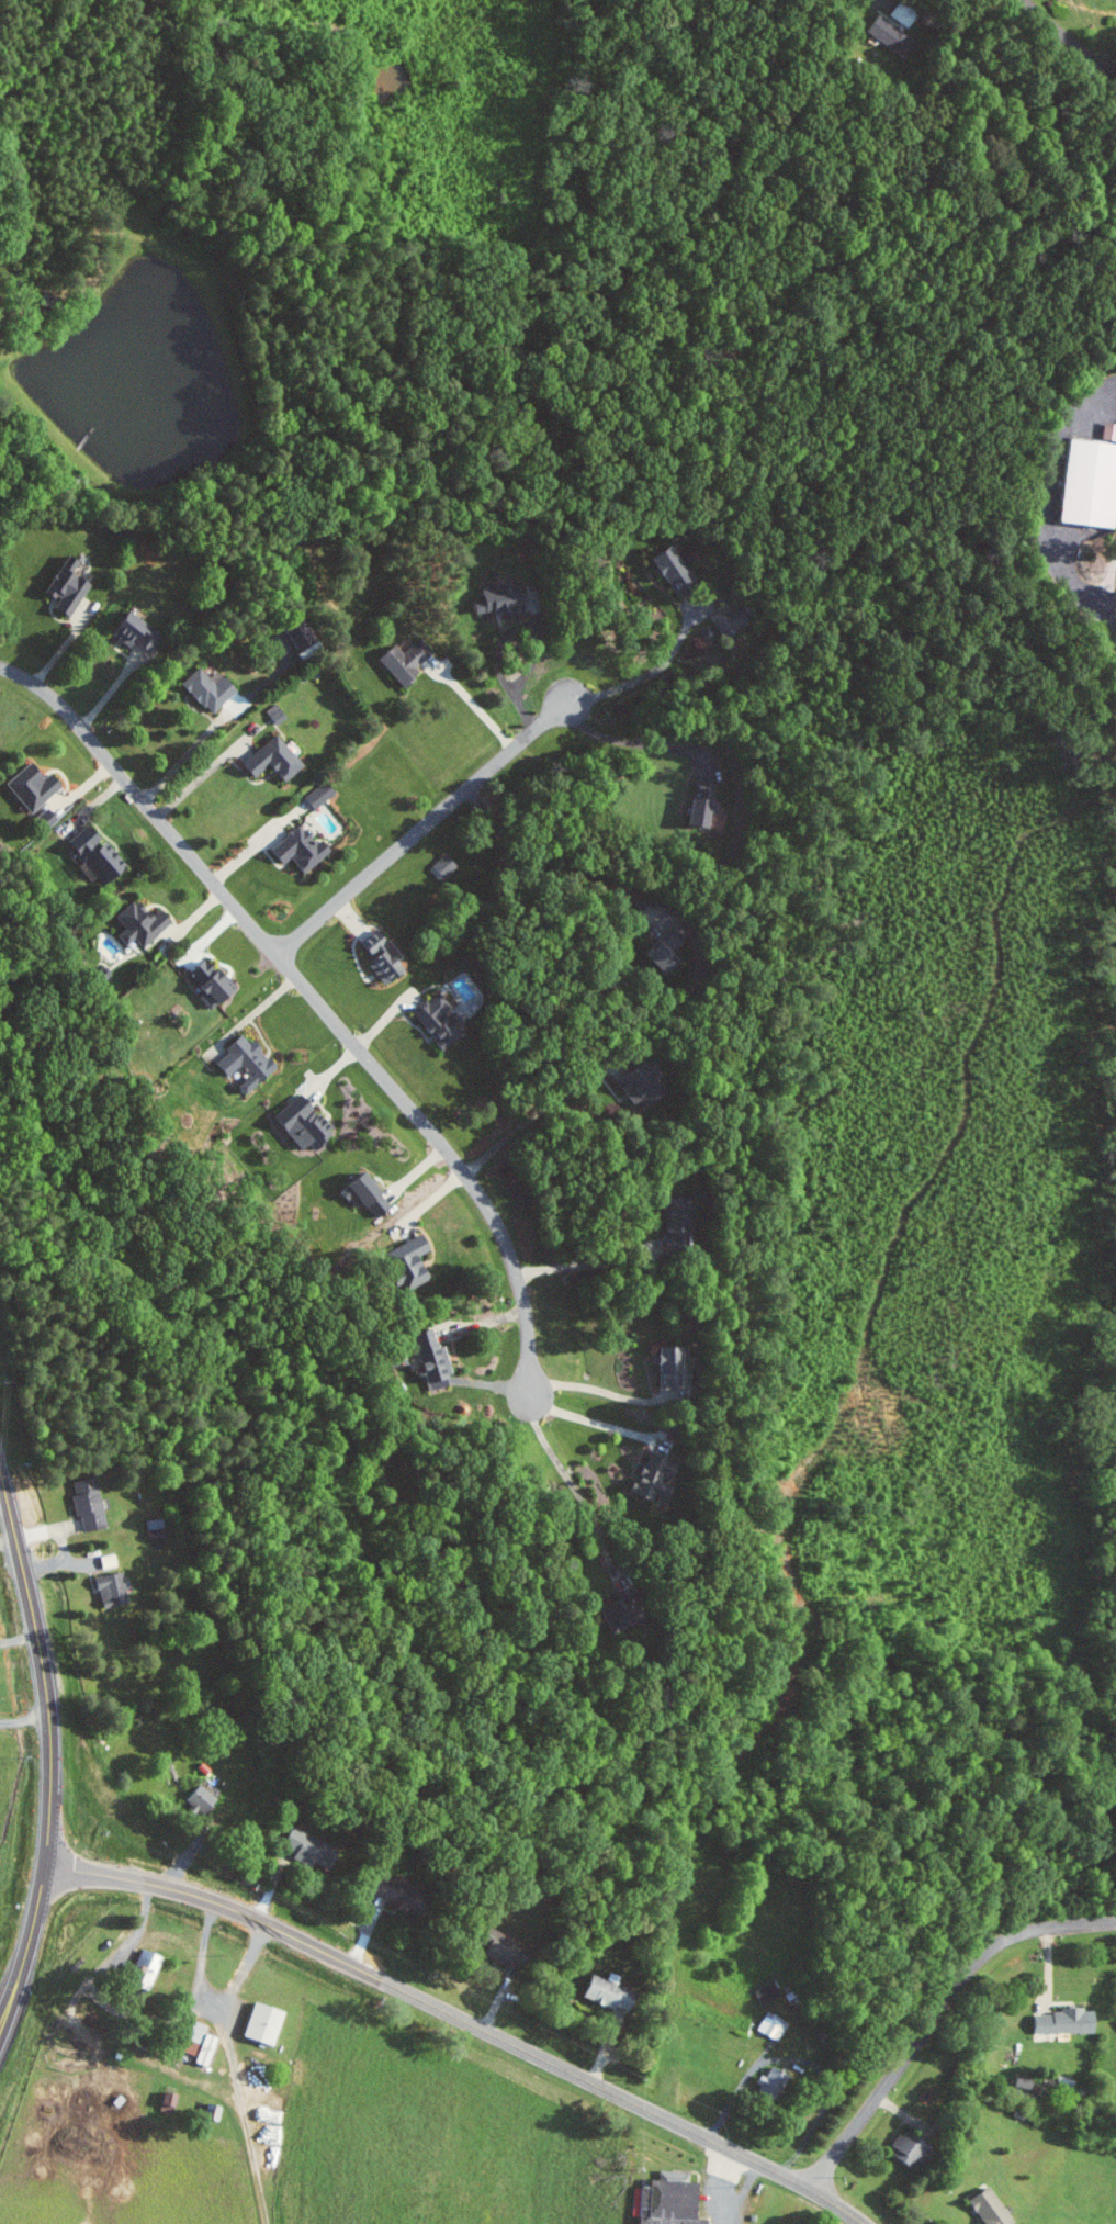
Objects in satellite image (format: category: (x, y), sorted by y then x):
road: (886, 1)
building: (886, 34)
road: (1067, 36)
building: (1083, 483)
road: (1048, 504)
building: (667, 568)
building: (60, 587)
building: (496, 599)
building: (734, 622)
building: (132, 631)
road: (499, 656)
building: (402, 659)
road: (645, 677)
building: (204, 688)
road: (473, 704)
road: (633, 742)
road: (192, 750)
building: (267, 760)
road: (202, 777)
building: (29, 786)
building: (315, 795)
building: (695, 807)
road: (422, 827)
road: (256, 845)
building: (294, 850)
building: (90, 853)
building: (440, 866)
road: (552, 869)
building: (135, 924)
building: (668, 951)
building: (376, 957)
building: (204, 984)
road: (315, 999)
building: (433, 1021)
building: (240, 1062)
building: (646, 1081)
road: (536, 1115)
building: (297, 1124)
building: (358, 1194)
building: (683, 1221)
building: (403, 1263)
road: (582, 1267)
building: (428, 1360)
building: (668, 1367)
road: (601, 1392)
road: (590, 1420)
building: (649, 1478)
road: (575, 1491)
building: (89, 1503)
building: (110, 1560)
building: (114, 1588)
building: (617, 1614)
road: (42, 1666)
road: (24, 1720)
building: (205, 1799)
building: (309, 1851)
building: (403, 1896)
road: (25, 1945)
building: (153, 1959)
building: (600, 1990)
road: (139, 2010)
road: (936, 2013)
road: (462, 2020)
building: (1059, 2021)
building: (269, 2022)
building: (769, 2025)
building: (1022, 2082)
building: (765, 2085)
building: (171, 2102)
building: (905, 2146)
road: (726, 2199)
building: (664, 2200)
building: (983, 2208)

